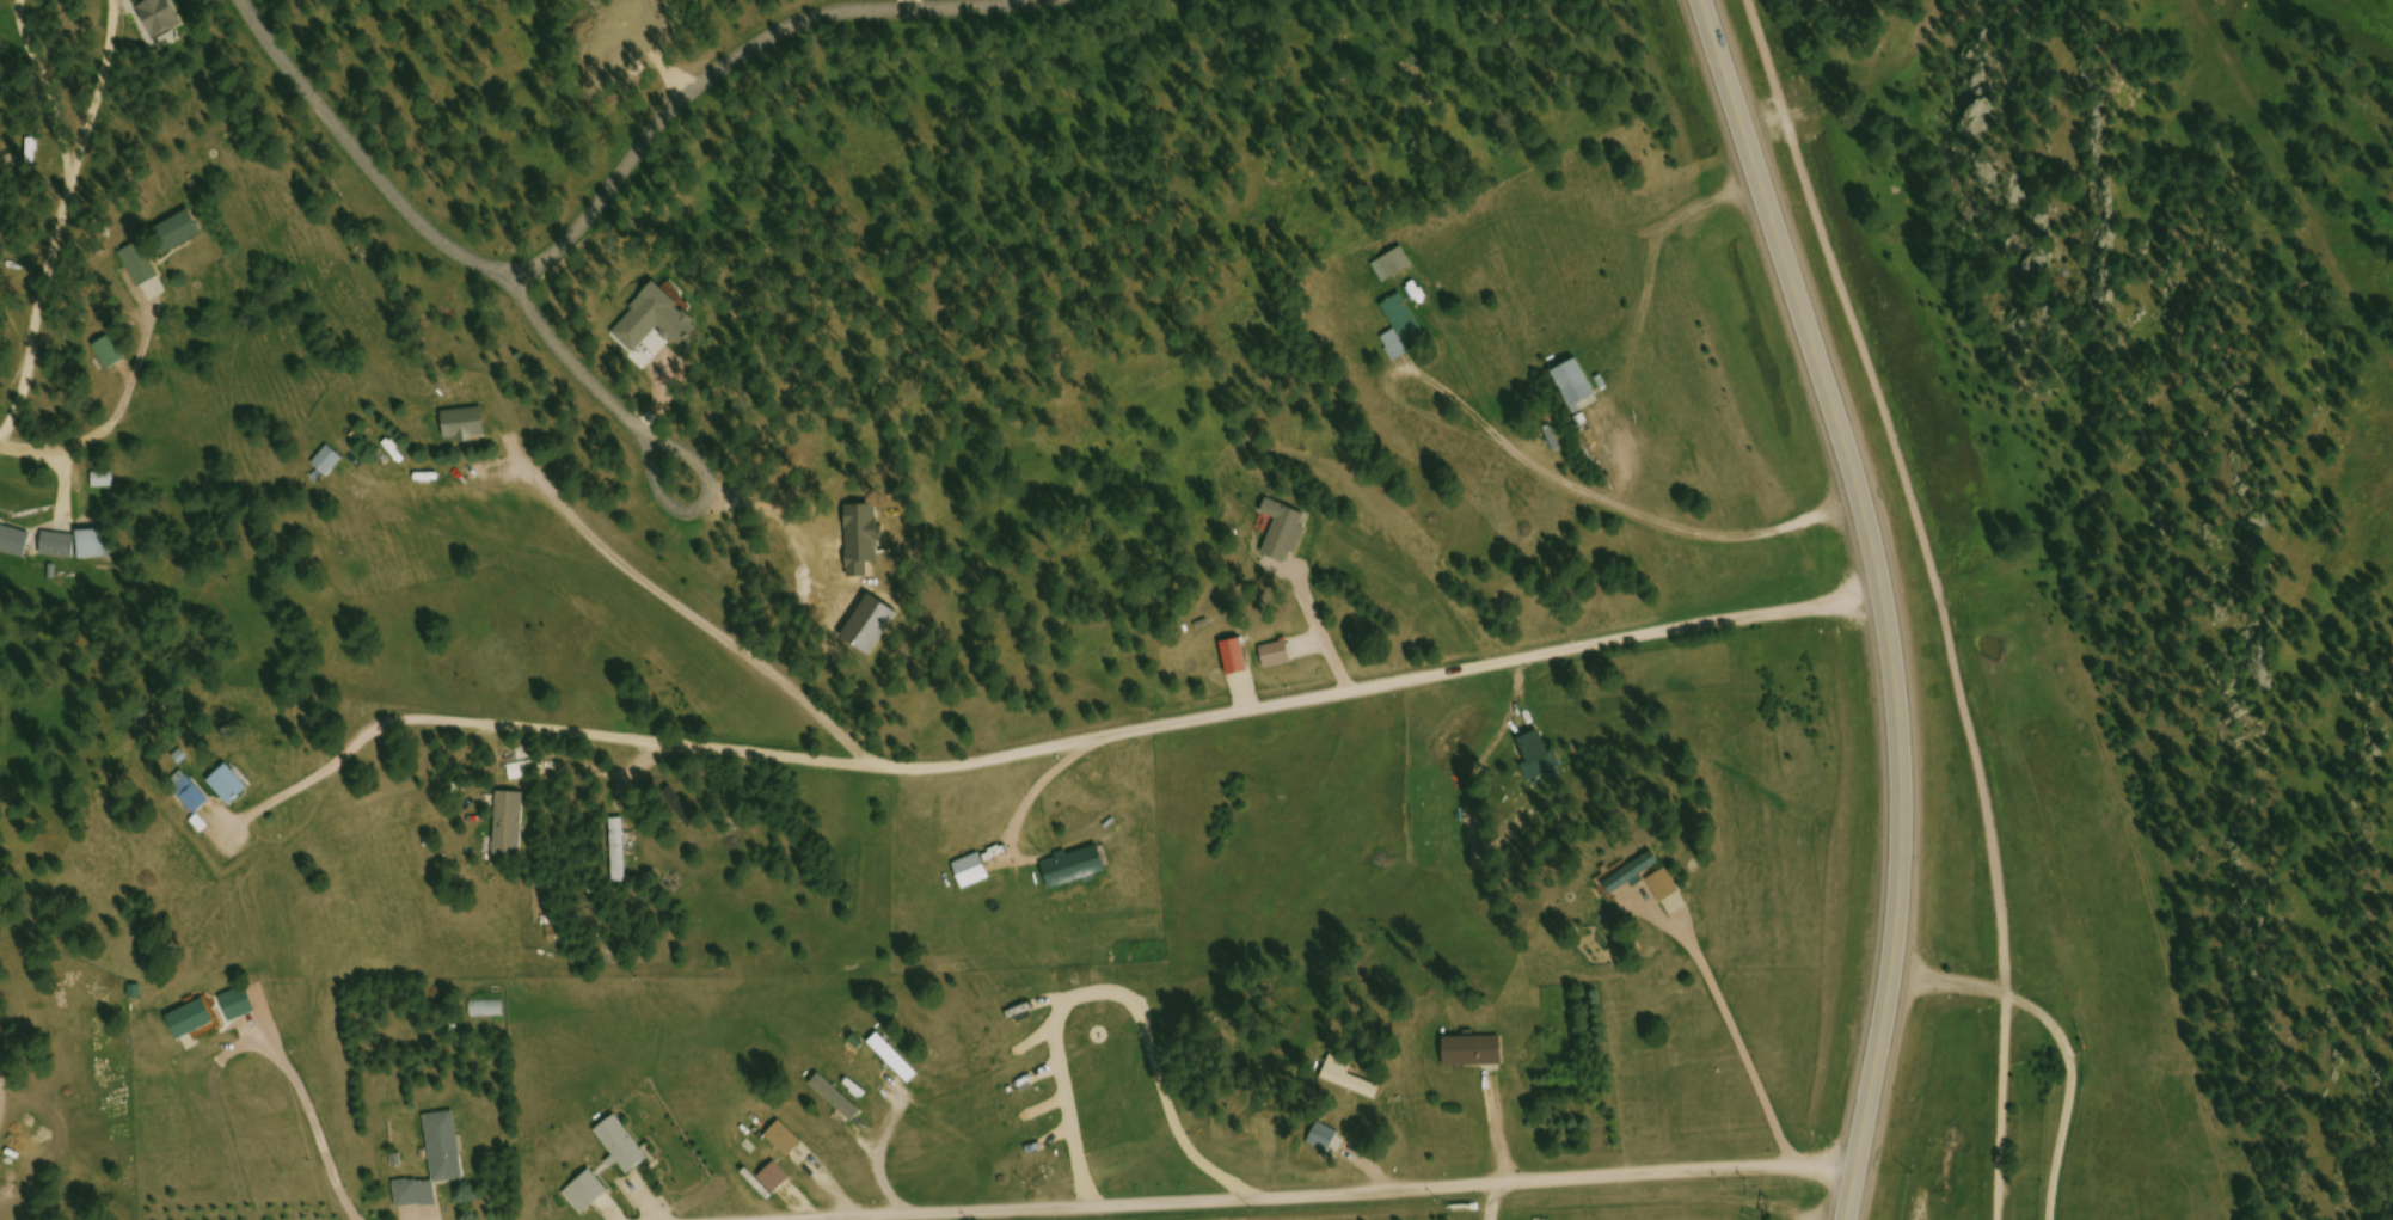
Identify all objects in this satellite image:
building: (161, 19)
road: (352, 165)
road: (590, 197)
building: (179, 235)
building: (141, 269)
building: (1394, 269)
building: (1403, 333)
building: (111, 356)
building: (1577, 390)
building: (466, 429)
road: (60, 455)
building: (329, 465)
road: (679, 496)
building: (14, 544)
building: (1282, 545)
building: (94, 547)
building: (59, 548)
road: (1939, 597)
road: (1883, 599)
building: (1277, 658)
building: (1238, 661)
road: (1124, 731)
building: (507, 760)
building: (511, 777)
building: (229, 787)
building: (190, 795)
building: (510, 828)
building: (620, 854)
building: (1076, 870)
building: (972, 873)
building: (1636, 876)
building: (1668, 889)
building: (246, 1004)
building: (194, 1022)
building: (866, 1026)
road: (5, 1034)
road: (2068, 1036)
building: (1475, 1053)
building: (896, 1060)
building: (1351, 1080)
building: (1326, 1139)
building: (786, 1141)
building: (622, 1147)
building: (1952, 1154)
building: (436, 1164)
building: (775, 1181)
road: (1271, 1189)
building: (587, 1194)

